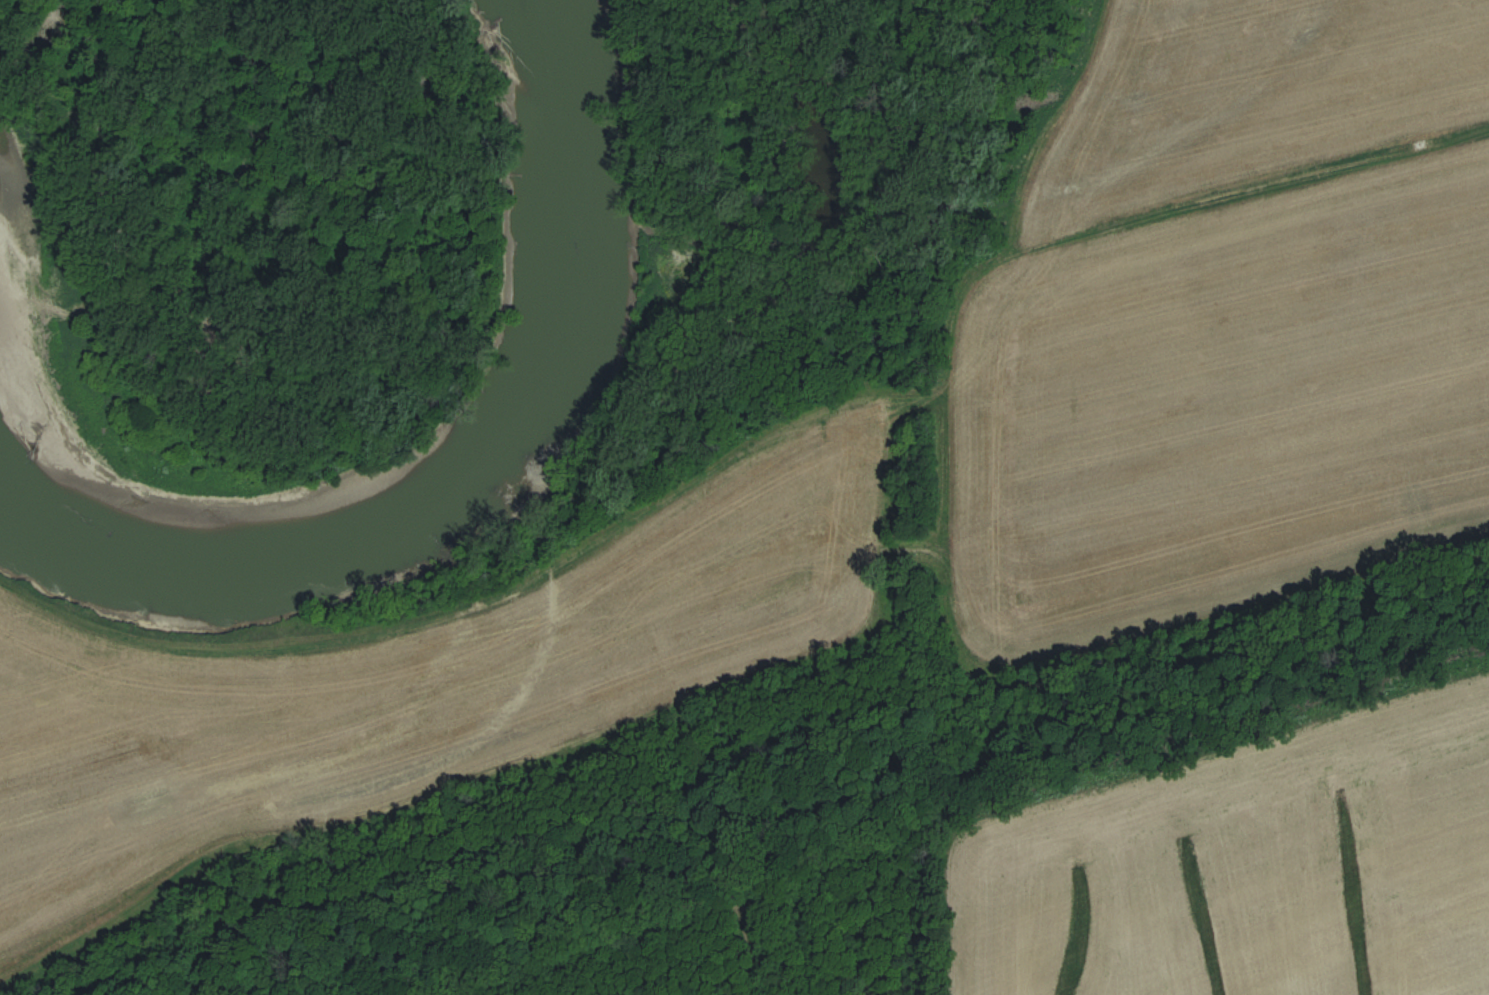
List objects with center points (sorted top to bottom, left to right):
crop: (1226, 315)
river: (400, 520)
crop: (389, 690)

